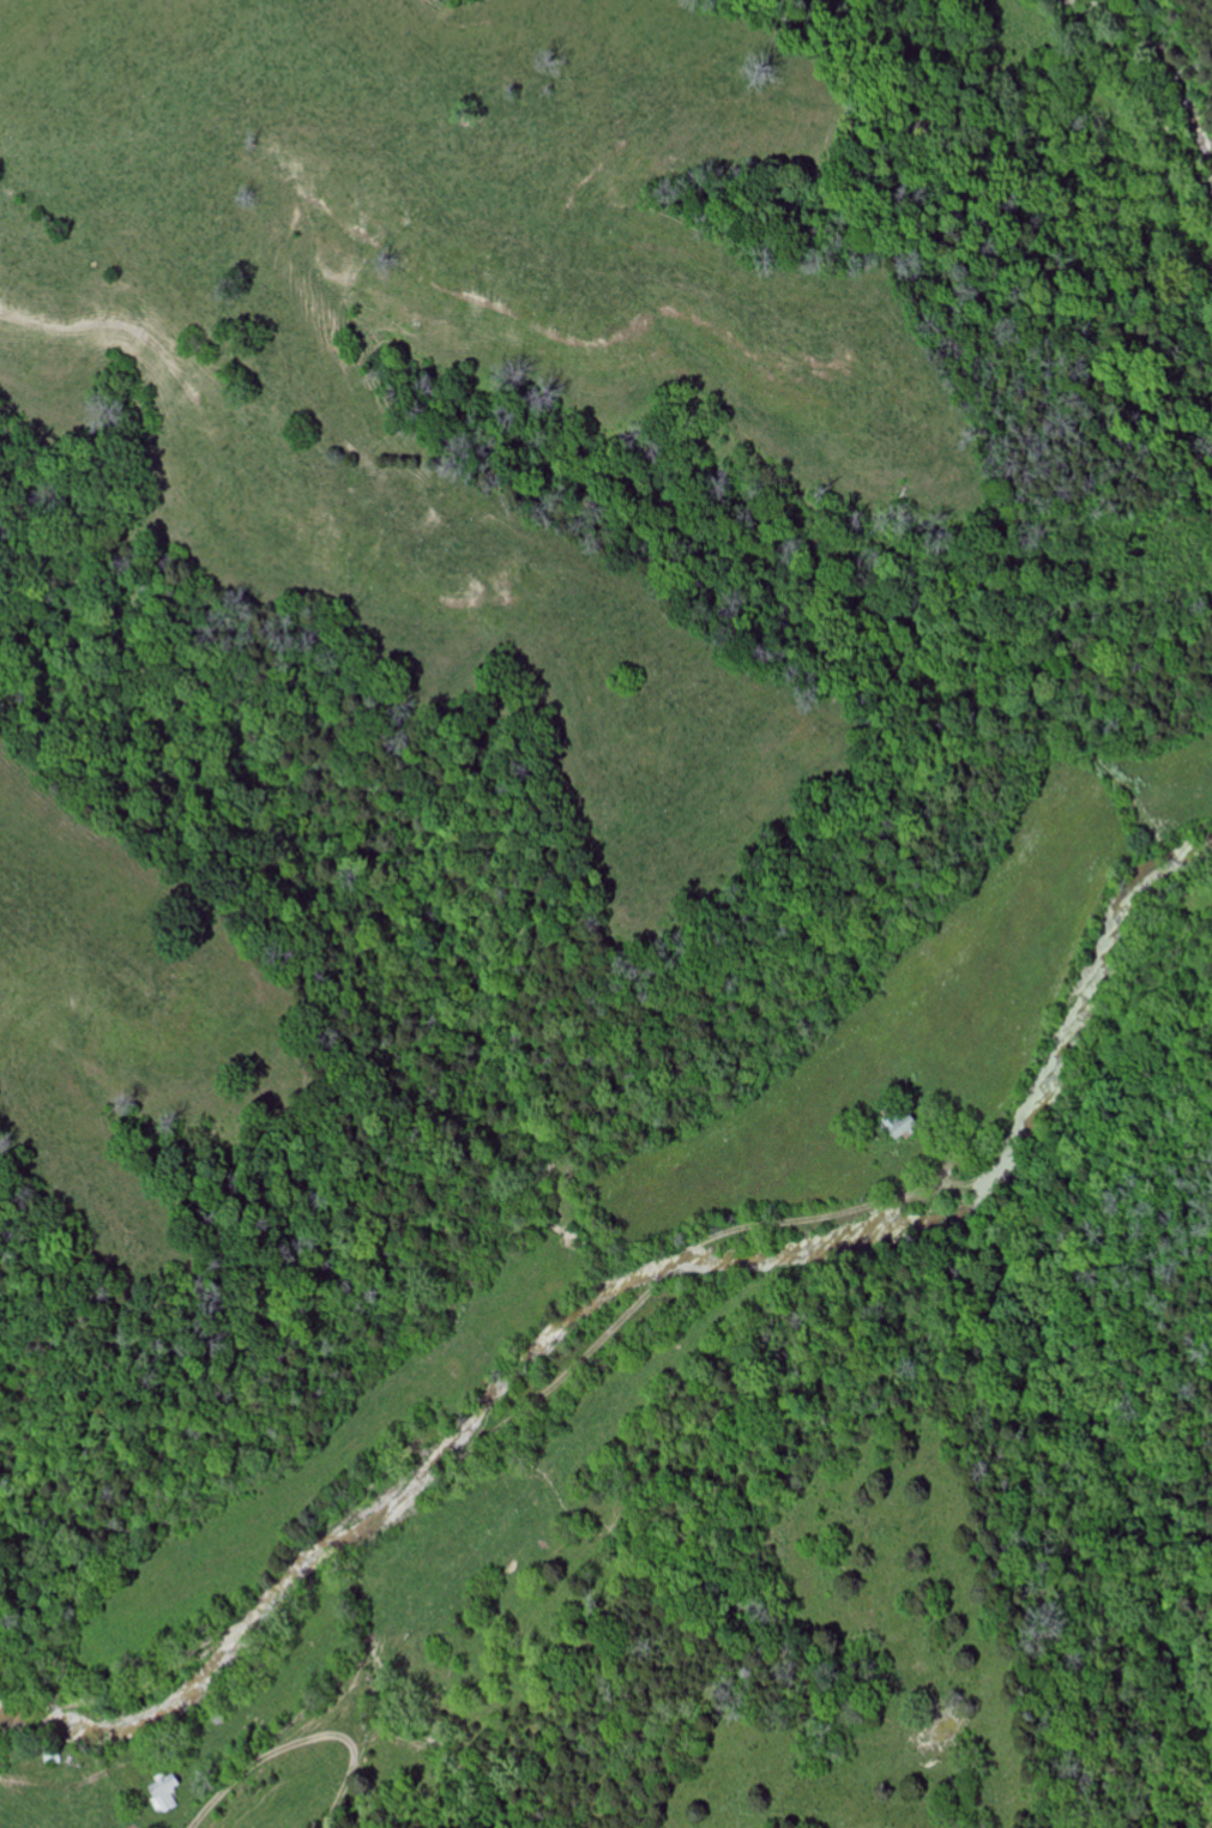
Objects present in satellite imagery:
road: (1104, 97)
building: (904, 1122)
road: (807, 1219)
road: (188, 1651)
building: (165, 1794)

